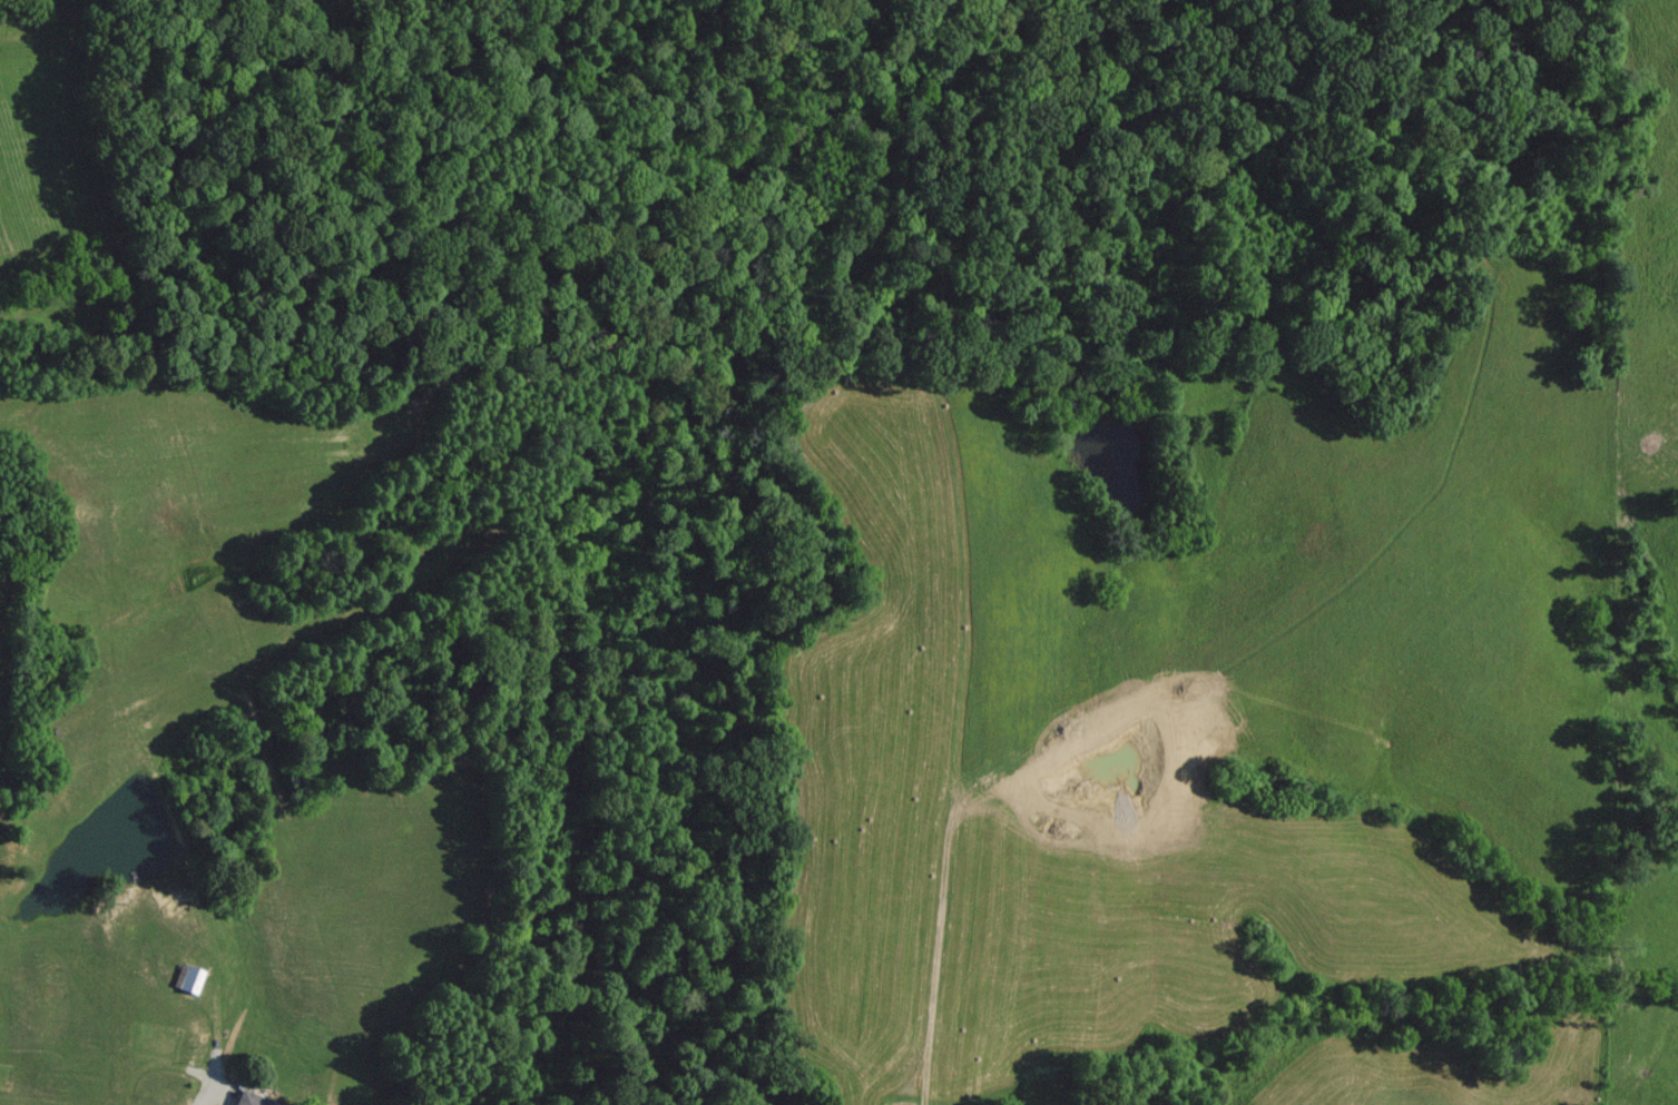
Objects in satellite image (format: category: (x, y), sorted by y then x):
building: (188, 979)
building: (253, 1098)

